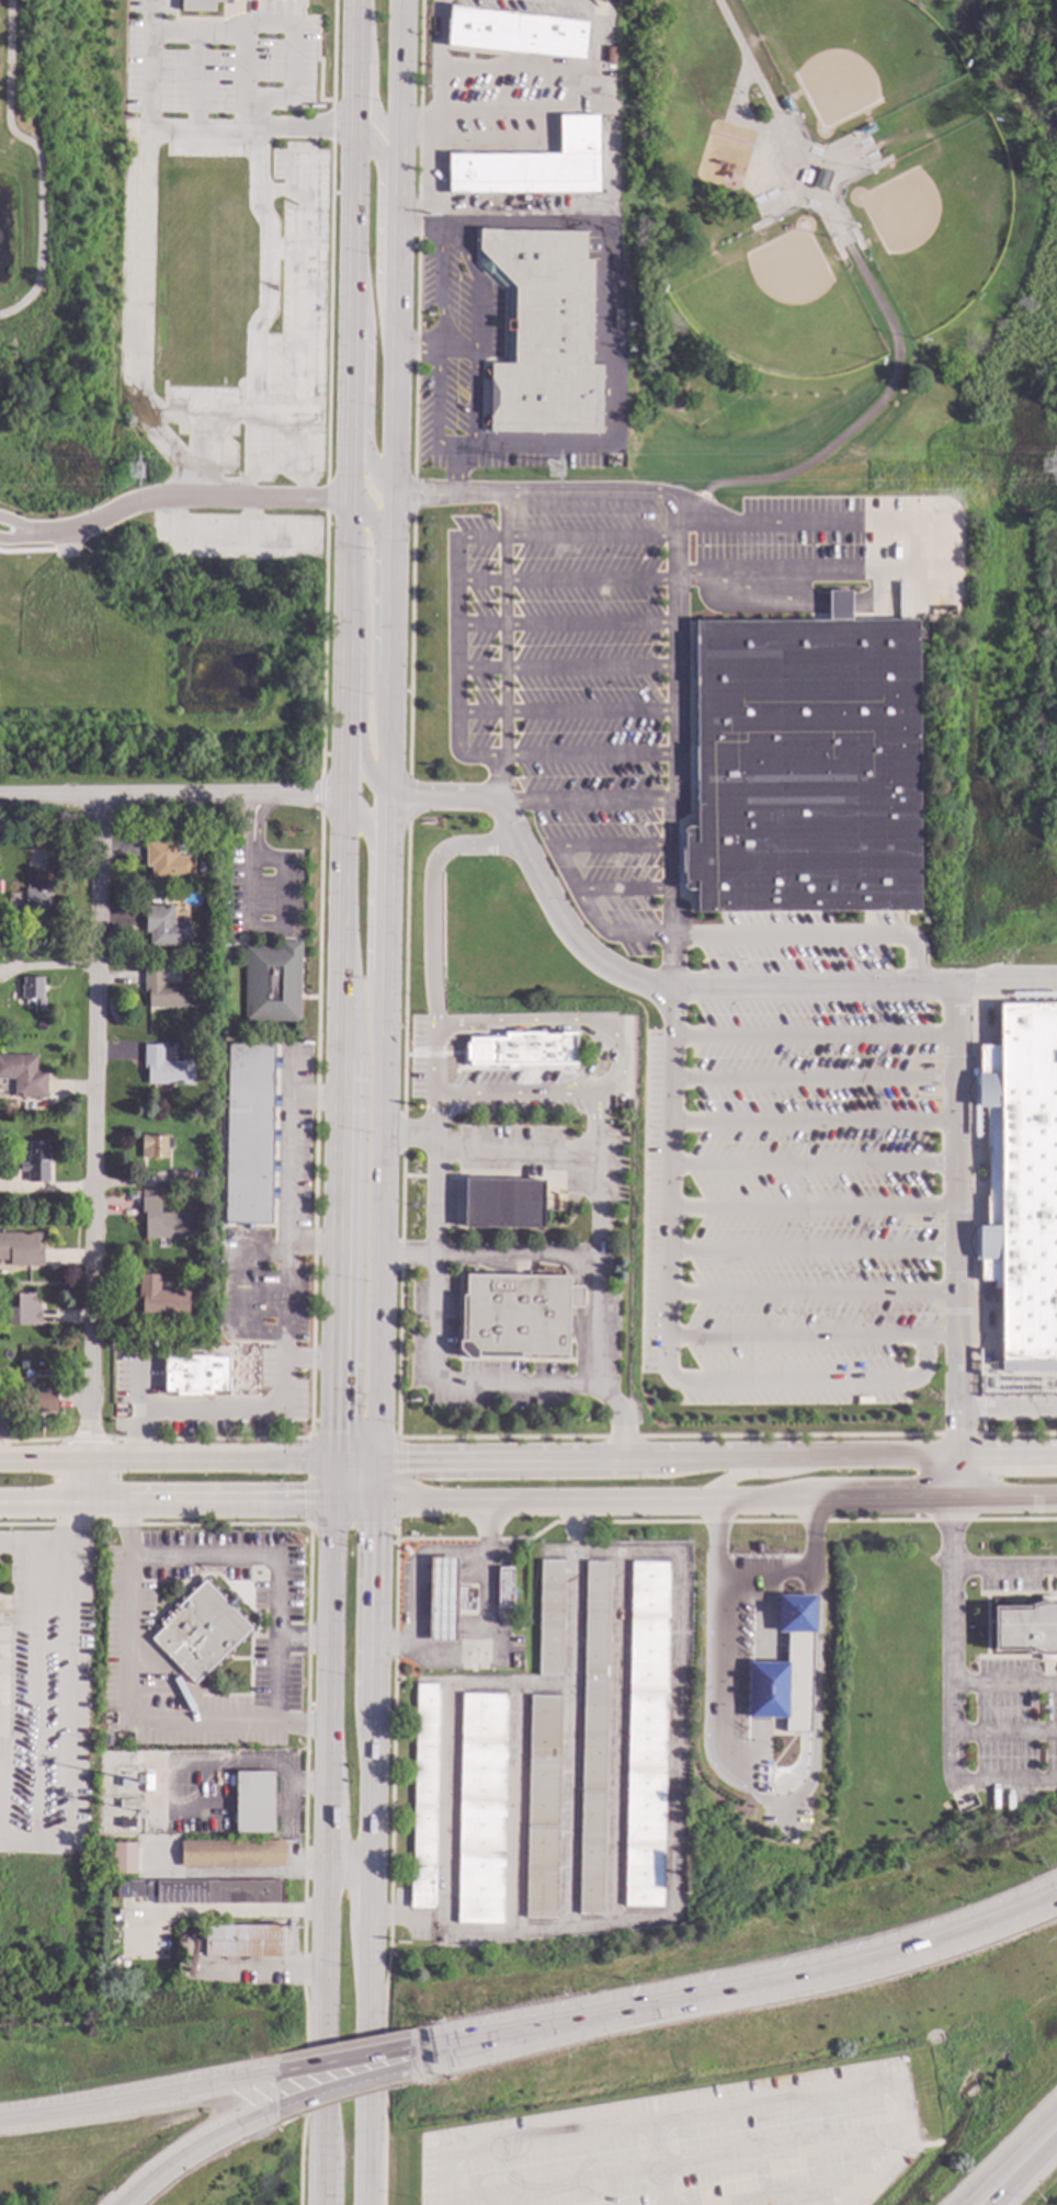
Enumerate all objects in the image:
building: (197, 5)
road: (151, 16)
road: (594, 26)
building: (515, 34)
road: (435, 54)
building: (609, 56)
road: (745, 57)
park: (852, 58)
road: (291, 60)
parking lot: (220, 64)
road: (370, 71)
road: (196, 80)
road: (149, 90)
road: (413, 127)
road: (38, 159)
building: (532, 166)
road: (604, 172)
building: (819, 179)
road: (521, 219)
park: (934, 219)
road: (377, 229)
park: (851, 234)
road: (416, 238)
road: (330, 241)
road: (285, 248)
park: (781, 302)
road: (263, 310)
road: (135, 314)
road: (303, 322)
road: (475, 326)
building: (543, 334)
road: (437, 343)
road: (435, 346)
road: (367, 375)
road: (197, 416)
road: (467, 446)
power tower: (557, 470)
road: (456, 471)
power tower: (140, 475)
road: (202, 491)
road: (412, 495)
road: (627, 495)
road: (327, 497)
road: (32, 532)
road: (66, 543)
road: (33, 550)
road: (786, 567)
road: (564, 579)
building: (837, 605)
road: (377, 610)
road: (564, 622)
road: (455, 643)
road: (322, 644)
road: (410, 644)
road: (504, 648)
road: (361, 662)
road: (565, 667)
road: (565, 711)
road: (341, 729)
road: (674, 743)
road: (389, 751)
building: (804, 766)
road: (169, 794)
road: (320, 794)
road: (407, 797)
road: (587, 797)
road: (614, 844)
road: (250, 849)
building: (168, 862)
building: (215, 879)
road: (249, 887)
road: (627, 889)
building: (167, 899)
building: (36, 900)
building: (181, 918)
building: (166, 929)
road: (705, 935)
road: (370, 937)
building: (2, 950)
parking lot: (724, 963)
building: (272, 982)
road: (675, 988)
building: (166, 991)
building: (33, 993)
road: (815, 1035)
building: (523, 1050)
road: (615, 1059)
building: (166, 1068)
building: (23, 1076)
road: (815, 1079)
building: (627, 1104)
road: (815, 1121)
road: (315, 1125)
road: (400, 1128)
building: (249, 1134)
road: (408, 1135)
building: (155, 1147)
road: (94, 1148)
road: (513, 1151)
building: (36, 1162)
road: (814, 1162)
building: (1021, 1179)
building: (180, 1181)
building: (201, 1185)
road: (435, 1191)
building: (502, 1202)
road: (812, 1206)
building: (162, 1220)
road: (312, 1232)
road: (594, 1239)
road: (955, 1239)
building: (22, 1249)
road: (812, 1249)
road: (488, 1257)
building: (194, 1284)
road: (812, 1293)
building: (160, 1297)
building: (22, 1310)
building: (514, 1316)
road: (288, 1320)
road: (669, 1329)
road: (811, 1335)
road: (309, 1350)
building: (196, 1375)
building: (39, 1400)
building: (3, 1401)
road: (1005, 1411)
road: (694, 1454)
traffic signals: (332, 1459)
traffic signals: (377, 1459)
road: (166, 1460)
road: (750, 1470)
road: (715, 1499)
traffic signals: (331, 1501)
road: (187, 1502)
traffic signals: (375, 1502)
road: (396, 1525)
road: (417, 1557)
road: (276, 1564)
road: (1004, 1568)
road: (764, 1571)
building: (503, 1585)
building: (445, 1598)
building: (550, 1616)
building: (1025, 1626)
building: (201, 1628)
road: (951, 1632)
road: (57, 1664)
building: (786, 1672)
road: (1003, 1682)
road: (716, 1708)
road: (124, 1710)
building: (646, 1732)
road: (674, 1734)
building: (593, 1737)
road: (995, 1784)
building: (424, 1795)
building: (253, 1800)
building: (543, 1805)
building: (482, 1807)
road: (568, 1812)
road: (326, 1832)
building: (231, 1853)
road: (371, 1853)
building: (123, 1857)
road: (304, 1865)
road: (348, 1865)
road: (390, 1865)
road: (236, 1873)
building: (207, 1889)
building: (242, 1940)
road: (261, 1965)
road: (811, 1974)
road: (476, 2035)
road: (476, 2048)
road: (330, 2062)
road: (330, 2091)
road: (132, 2102)
road: (698, 2112)
parking lot: (691, 2145)
road: (191, 2152)
road: (1008, 2160)
road: (656, 2162)
road: (672, 2164)
road: (1025, 2171)
road: (796, 2193)
road: (860, 2193)

